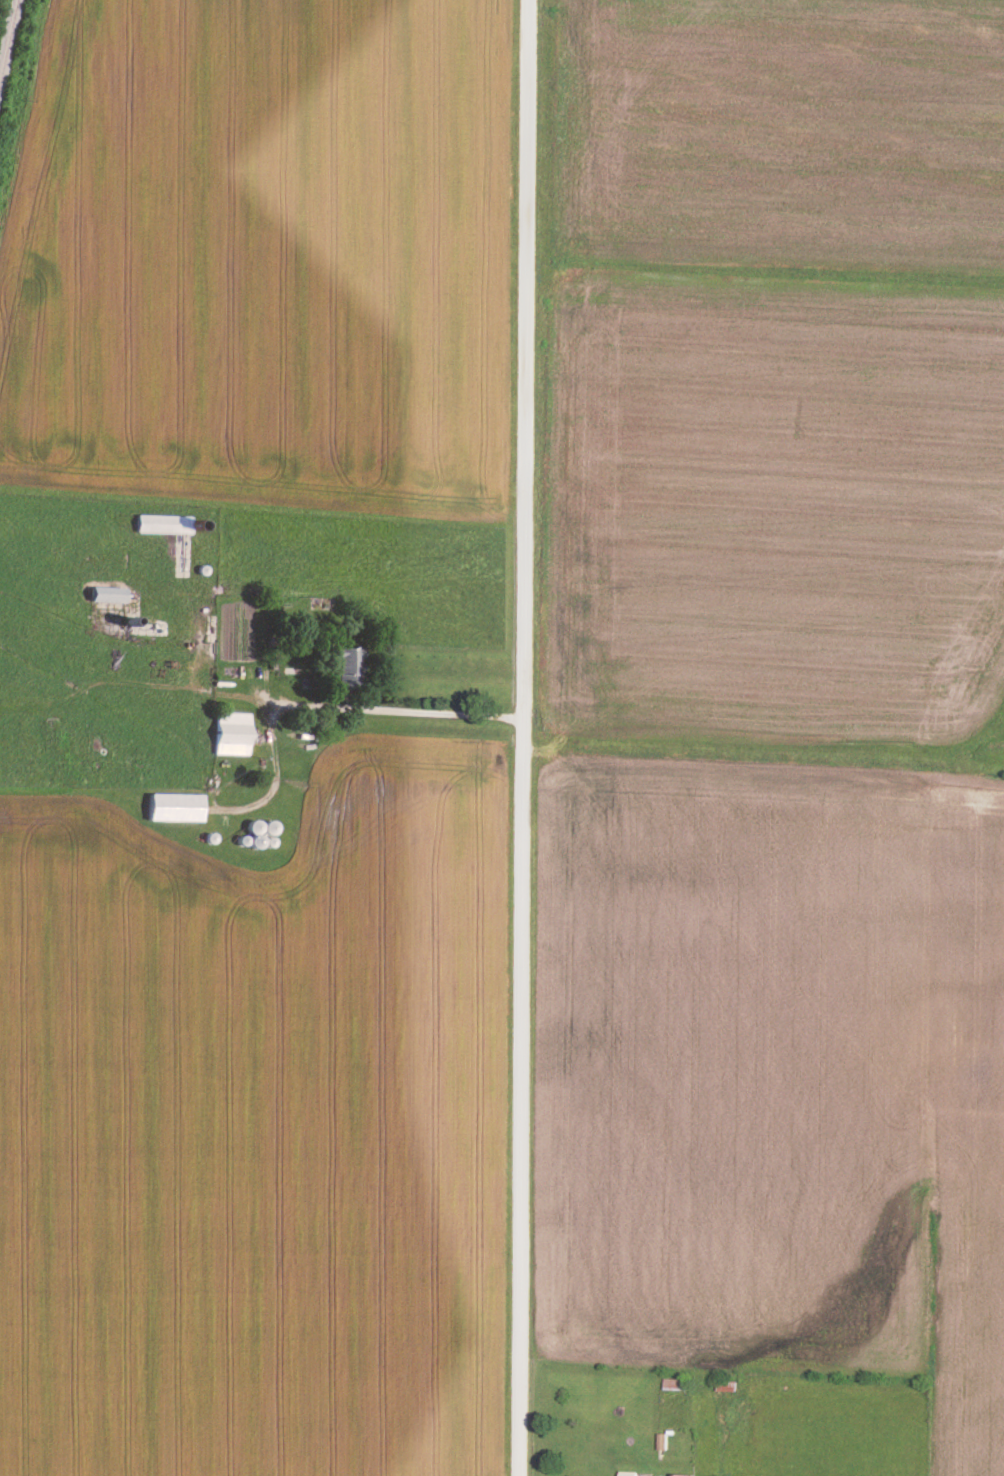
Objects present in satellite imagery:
railway: (9, 43)
building: (164, 522)
building: (108, 592)
building: (350, 664)
road: (364, 711)
building: (233, 731)
road: (519, 737)
building: (177, 806)
road: (667, 1469)
building: (630, 1472)
building: (684, 1473)

